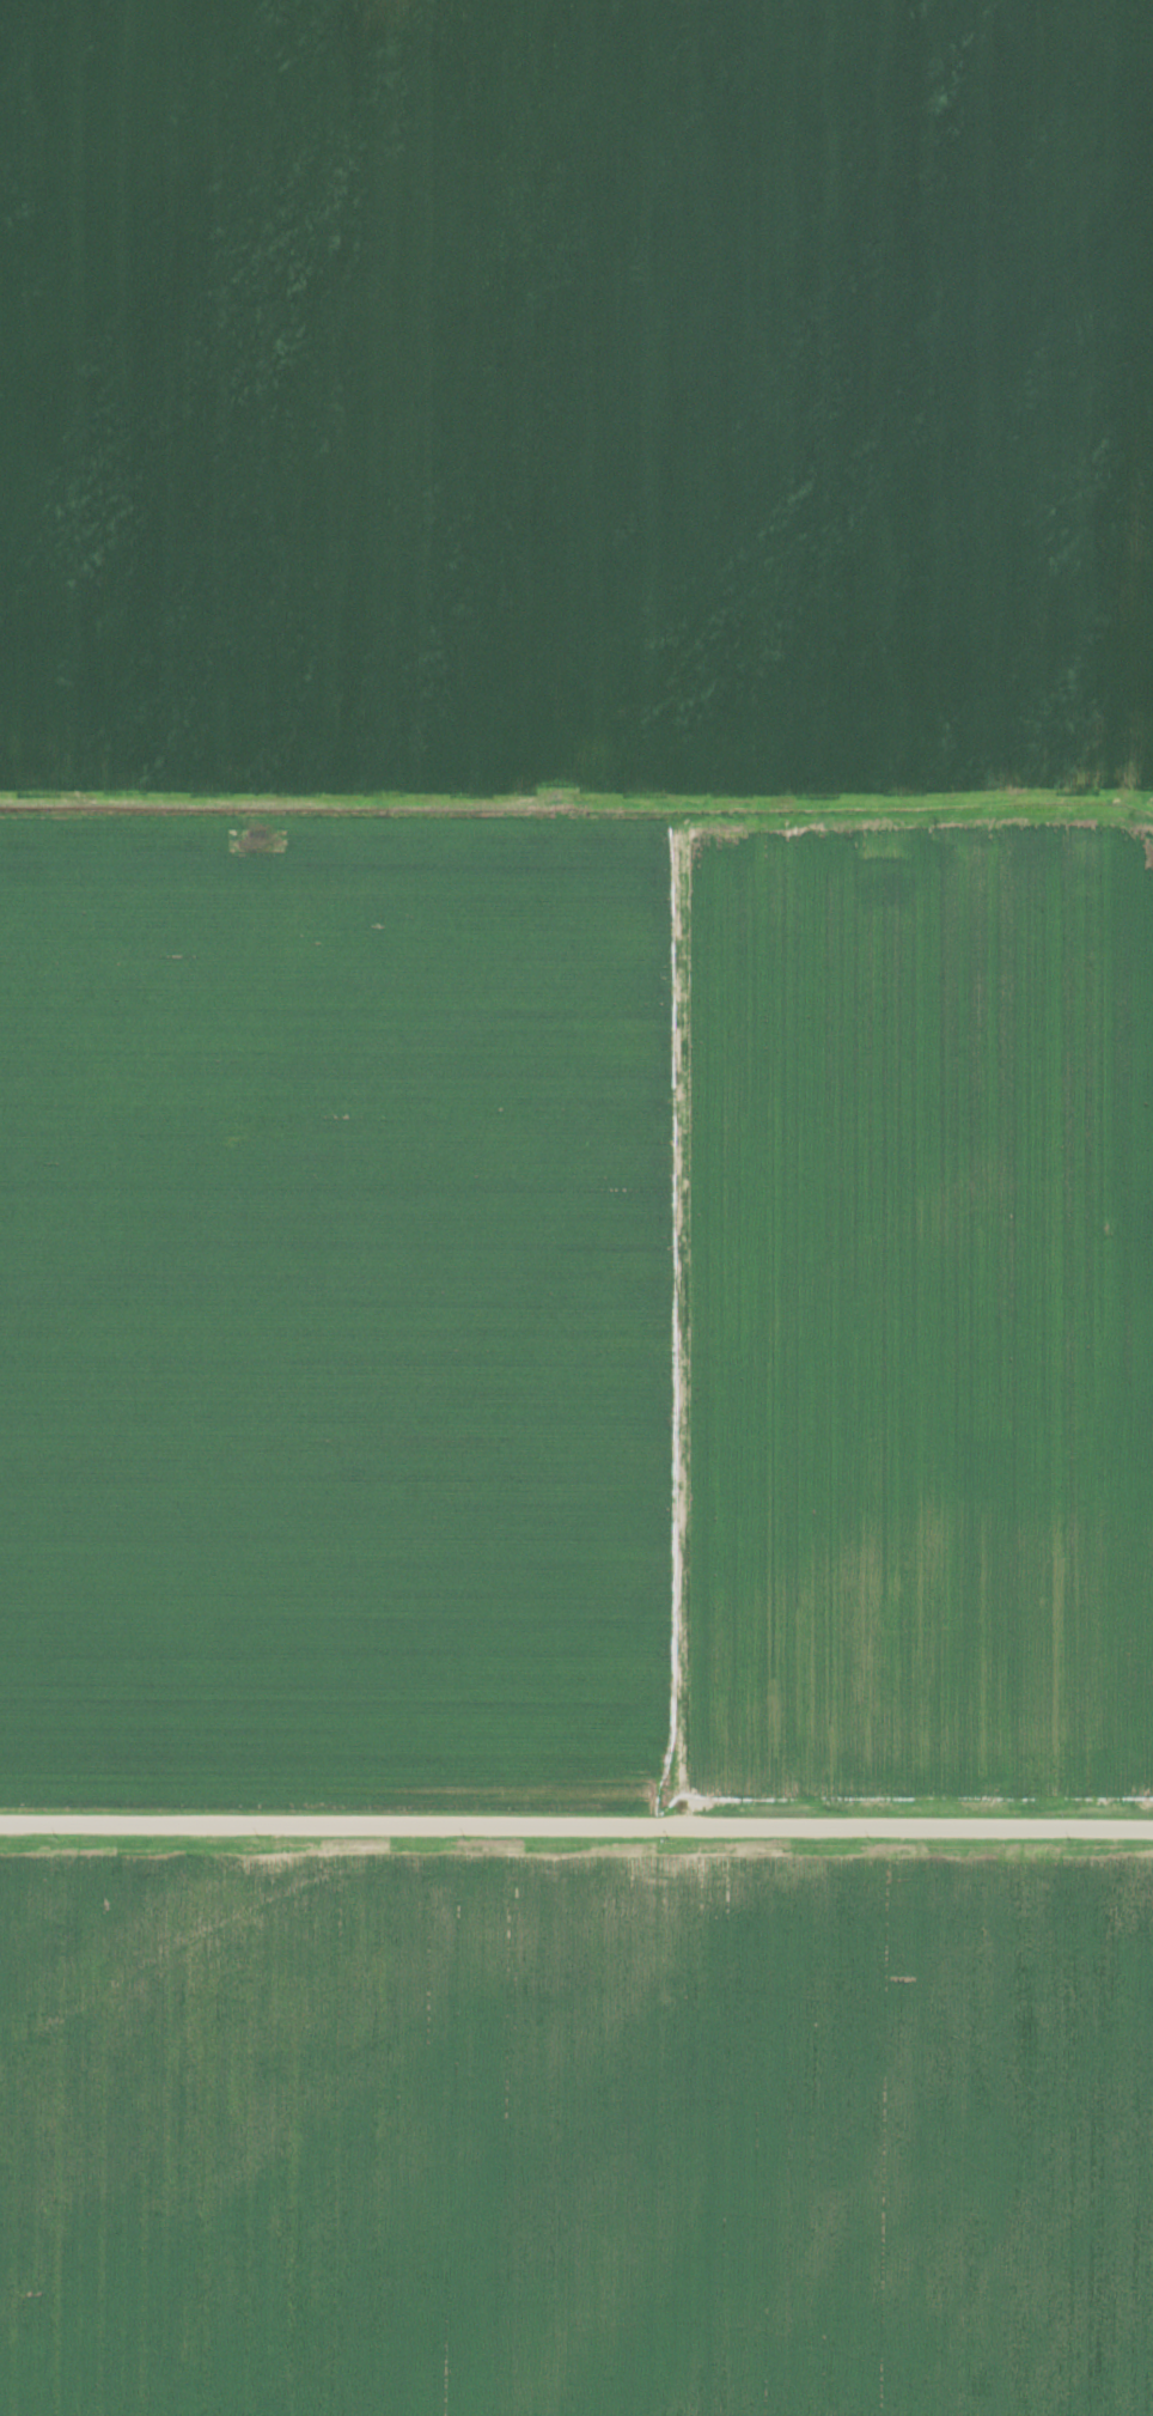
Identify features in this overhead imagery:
road: (676, 1329)
road: (575, 1830)

